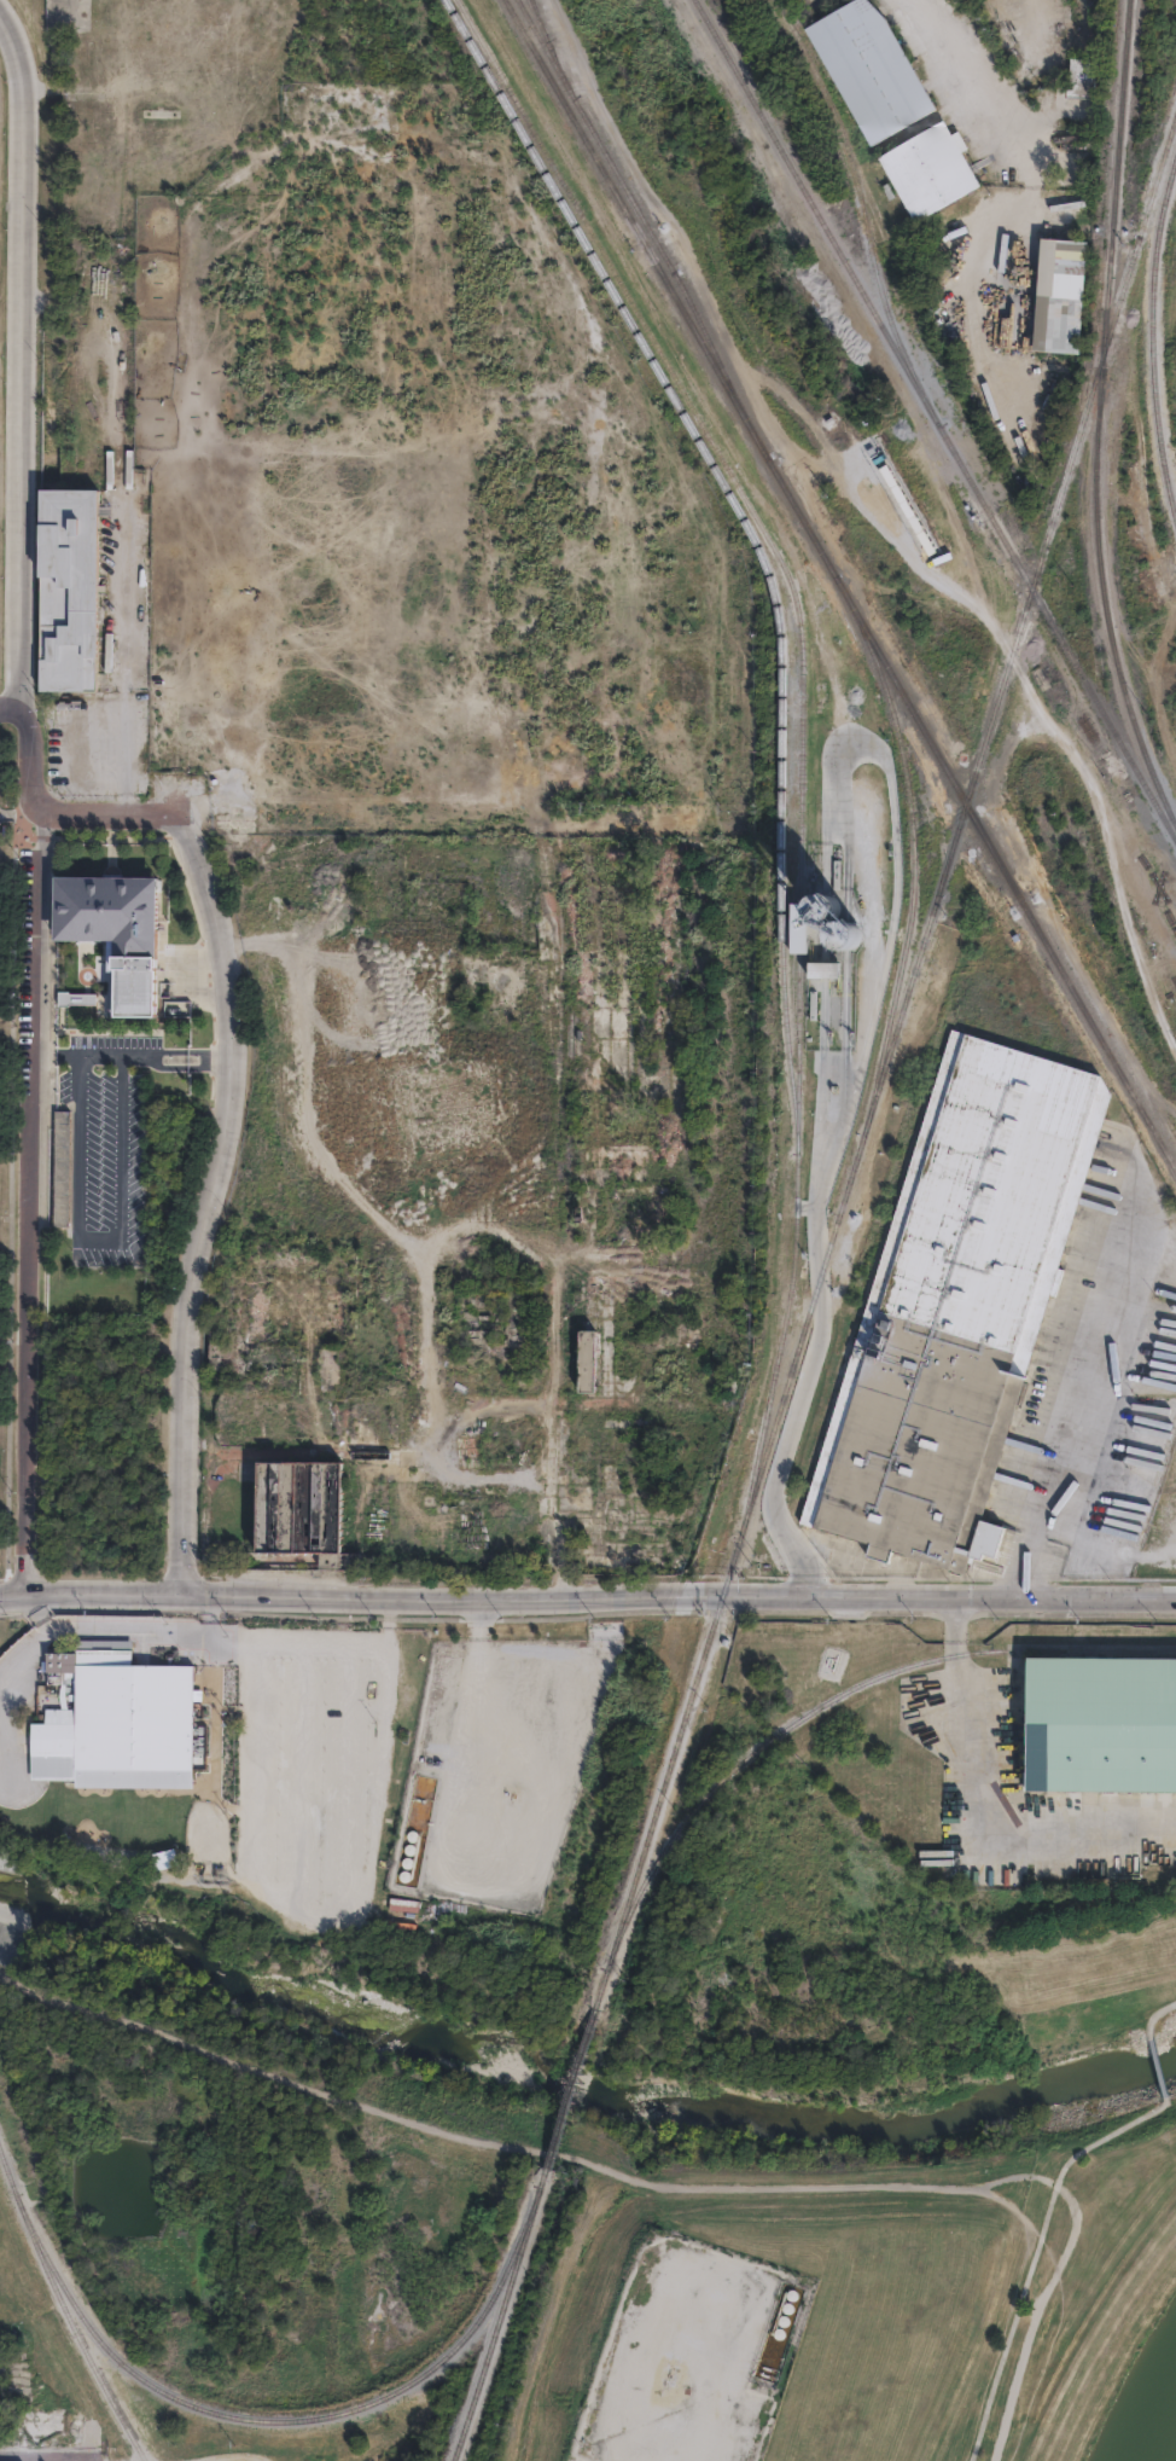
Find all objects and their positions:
railway: (535, 4)
railway: (545, 28)
building: (867, 69)
building: (1082, 77)
road: (959, 81)
building: (1070, 82)
building: (926, 170)
railway: (640, 208)
railway: (1112, 238)
building: (1049, 298)
railway: (1157, 342)
road: (18, 360)
railway: (933, 419)
railway: (705, 448)
building: (897, 503)
building: (68, 586)
railway: (839, 587)
railway: (1114, 657)
road: (6, 708)
railway: (801, 726)
road: (101, 816)
building: (569, 848)
railway: (915, 877)
building: (116, 936)
building: (76, 1003)
railway: (787, 1054)
road: (92, 1056)
road: (150, 1057)
railway: (884, 1068)
building: (651, 1133)
road: (31, 1147)
building: (62, 1168)
road: (211, 1191)
building: (534, 1198)
building: (418, 1200)
building: (642, 1211)
building: (594, 1219)
road: (95, 1235)
building: (951, 1301)
building: (301, 1304)
building: (590, 1350)
road: (809, 1369)
building: (682, 1370)
road: (1072, 1400)
building: (517, 1492)
building: (303, 1511)
road: (587, 1598)
road: (34, 1613)
road: (395, 1619)
road: (52, 1627)
road: (476, 1677)
railway: (840, 1688)
road: (221, 1711)
building: (1100, 1725)
building: (121, 1726)
road: (972, 1806)
road: (372, 1851)
road: (1154, 2015)
road: (1158, 2067)
railway: (570, 2088)
road: (522, 2148)
railway: (11, 2182)
railway: (538, 2189)
road: (1036, 2252)
railway: (490, 2335)
railway: (77, 2339)
railway: (279, 2420)
river: (1170, 2448)
road: (50, 2457)

